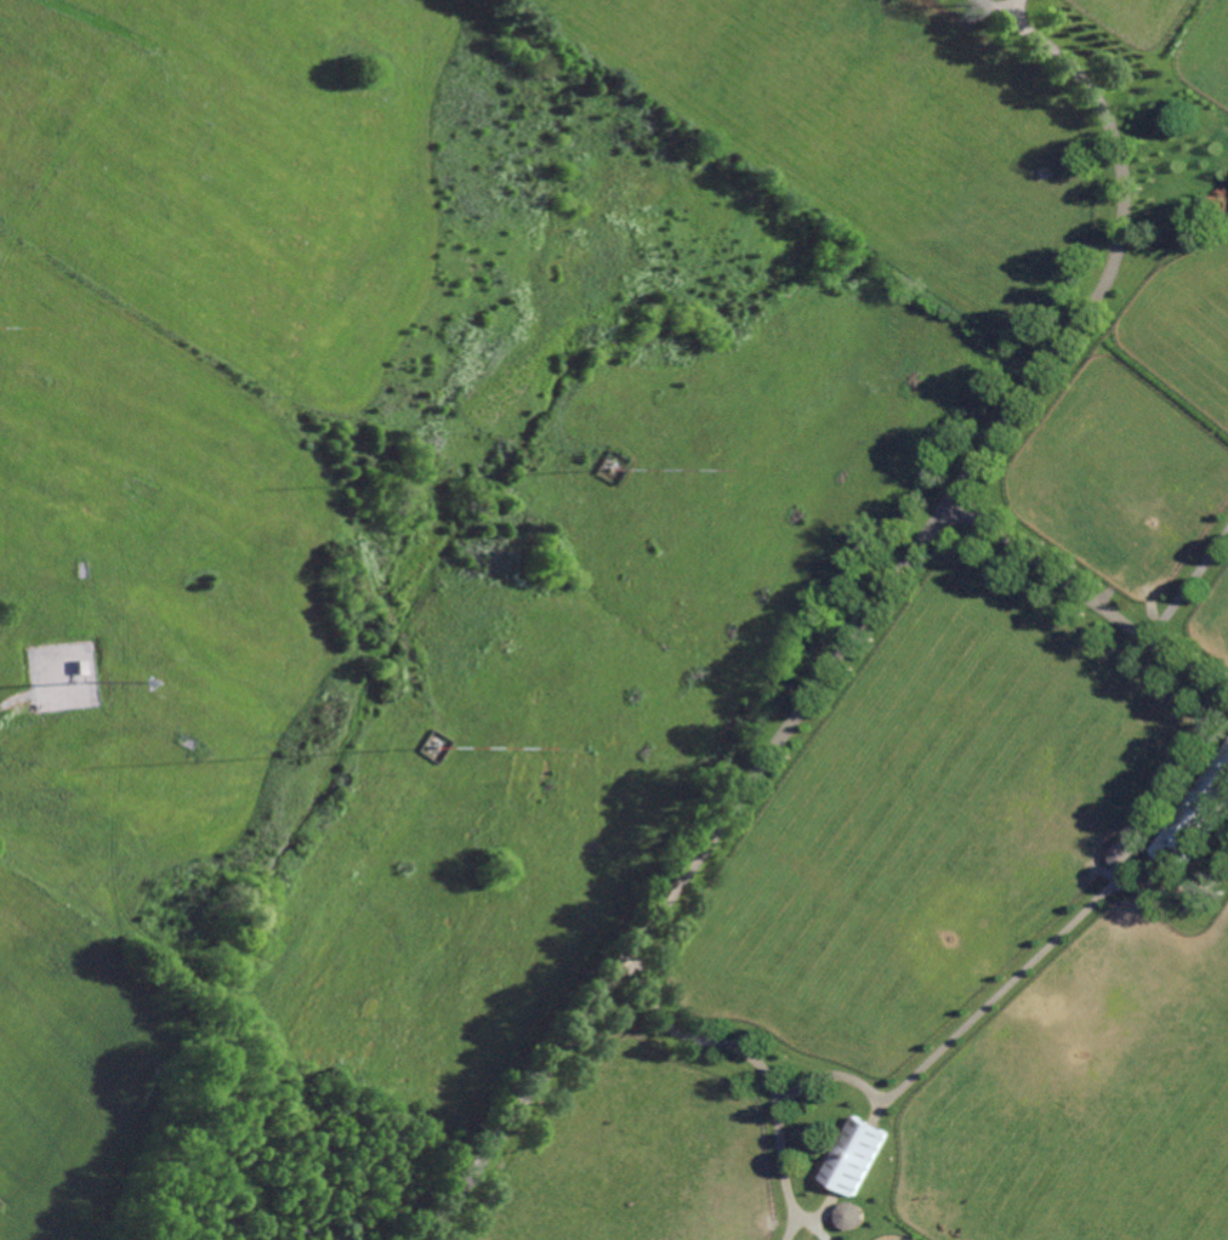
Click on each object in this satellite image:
road: (1016, 11)
building: (1222, 210)
road: (1087, 597)
road: (863, 616)
building: (1196, 815)
building: (1126, 854)
road: (1004, 989)
road: (758, 1063)
building: (855, 1155)
building: (851, 1216)

